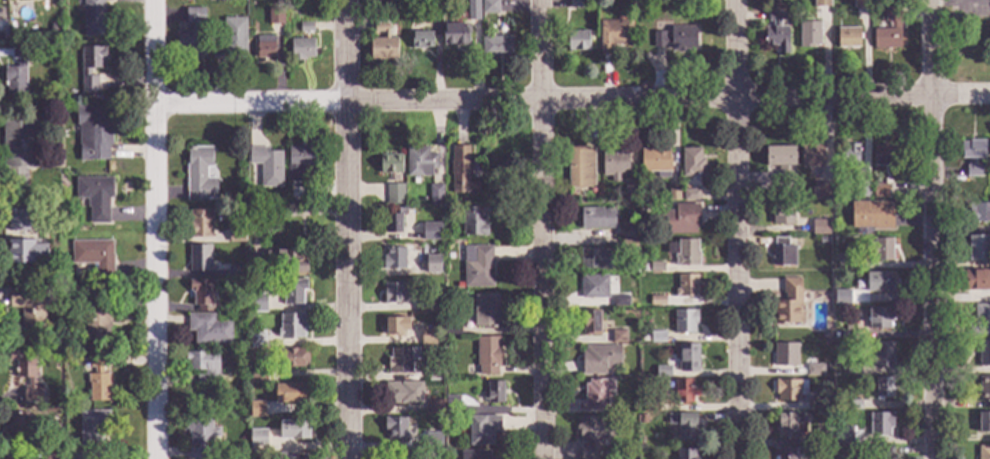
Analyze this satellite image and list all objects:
building: (24, 0)
building: (277, 3)
building: (576, 4)
building: (821, 4)
building: (861, 4)
building: (473, 5)
building: (434, 7)
building: (489, 7)
building: (776, 7)
building: (92, 18)
building: (275, 18)
building: (50, 29)
building: (305, 29)
building: (888, 31)
building: (776, 34)
building: (614, 35)
building: (809, 35)
building: (192, 36)
building: (456, 36)
building: (848, 39)
building: (382, 40)
building: (676, 40)
building: (231, 41)
building: (420, 42)
building: (578, 42)
building: (496, 47)
building: (265, 49)
building: (301, 51)
building: (90, 68)
building: (15, 75)
road: (571, 100)
building: (92, 134)
building: (17, 152)
building: (811, 157)
building: (848, 157)
building: (883, 157)
building: (972, 157)
building: (299, 163)
building: (419, 163)
building: (655, 163)
building: (691, 164)
building: (389, 165)
building: (614, 165)
building: (266, 166)
building: (781, 166)
building: (580, 168)
building: (461, 172)
building: (199, 175)
building: (861, 191)
building: (879, 192)
building: (822, 193)
building: (672, 194)
building: (394, 195)
building: (630, 195)
building: (434, 196)
building: (690, 196)
building: (94, 198)
building: (255, 202)
building: (293, 205)
building: (978, 213)
road: (287, 215)
building: (782, 216)
building: (870, 216)
building: (596, 219)
building: (393, 221)
building: (679, 221)
building: (472, 223)
building: (199, 225)
road: (153, 229)
road: (346, 229)
road: (540, 229)
road: (737, 229)
building: (819, 229)
road: (932, 229)
building: (431, 232)
building: (628, 233)
building: (236, 236)
building: (22, 242)
building: (628, 247)
building: (979, 248)
building: (880, 251)
building: (686, 254)
building: (782, 254)
building: (93, 258)
building: (199, 259)
building: (393, 259)
building: (596, 260)
building: (287, 262)
building: (843, 262)
building: (433, 265)
building: (655, 267)
building: (477, 268)
building: (236, 273)
building: (974, 281)
building: (878, 283)
building: (686, 286)
building: (593, 288)
building: (393, 293)
building: (201, 295)
building: (291, 295)
building: (846, 300)
building: (656, 301)
building: (619, 302)
building: (259, 304)
building: (432, 304)
building: (788, 304)
building: (485, 312)
building: (28, 314)
building: (879, 319)
building: (979, 321)
building: (685, 322)
building: (96, 323)
building: (590, 323)
building: (290, 327)
building: (396, 327)
building: (451, 327)
building: (846, 329)
building: (209, 330)
building: (825, 336)
building: (427, 337)
building: (835, 337)
building: (846, 337)
building: (617, 338)
building: (656, 338)
building: (644, 339)
building: (255, 340)
building: (53, 346)
building: (984, 355)
building: (486, 356)
building: (784, 356)
building: (881, 357)
building: (687, 358)
building: (292, 359)
building: (599, 360)
building: (400, 361)
building: (99, 362)
building: (205, 369)
building: (814, 371)
building: (662, 373)
building: (850, 373)
building: (25, 374)
building: (257, 375)
building: (434, 375)
building: (97, 383)
building: (844, 384)
building: (883, 389)
building: (984, 389)
building: (789, 390)
building: (684, 392)
building: (493, 393)
building: (289, 394)
building: (402, 394)
building: (595, 396)
building: (814, 406)
building: (853, 406)
building: (650, 407)
building: (434, 408)
building: (256, 410)
building: (451, 410)
building: (643, 420)
building: (983, 424)
building: (18, 425)
building: (880, 425)
building: (683, 427)
building: (786, 427)
building: (394, 428)
building: (293, 430)
building: (482, 430)
building: (92, 431)
building: (592, 435)
building: (199, 437)
building: (257, 438)
building: (823, 438)
building: (842, 441)
building: (436, 445)
building: (877, 453)
building: (983, 453)
building: (50, 454)
building: (784, 454)
building: (474, 455)
building: (685, 455)
building: (285, 456)
building: (394, 456)
building: (827, 456)
building: (72, 457)

